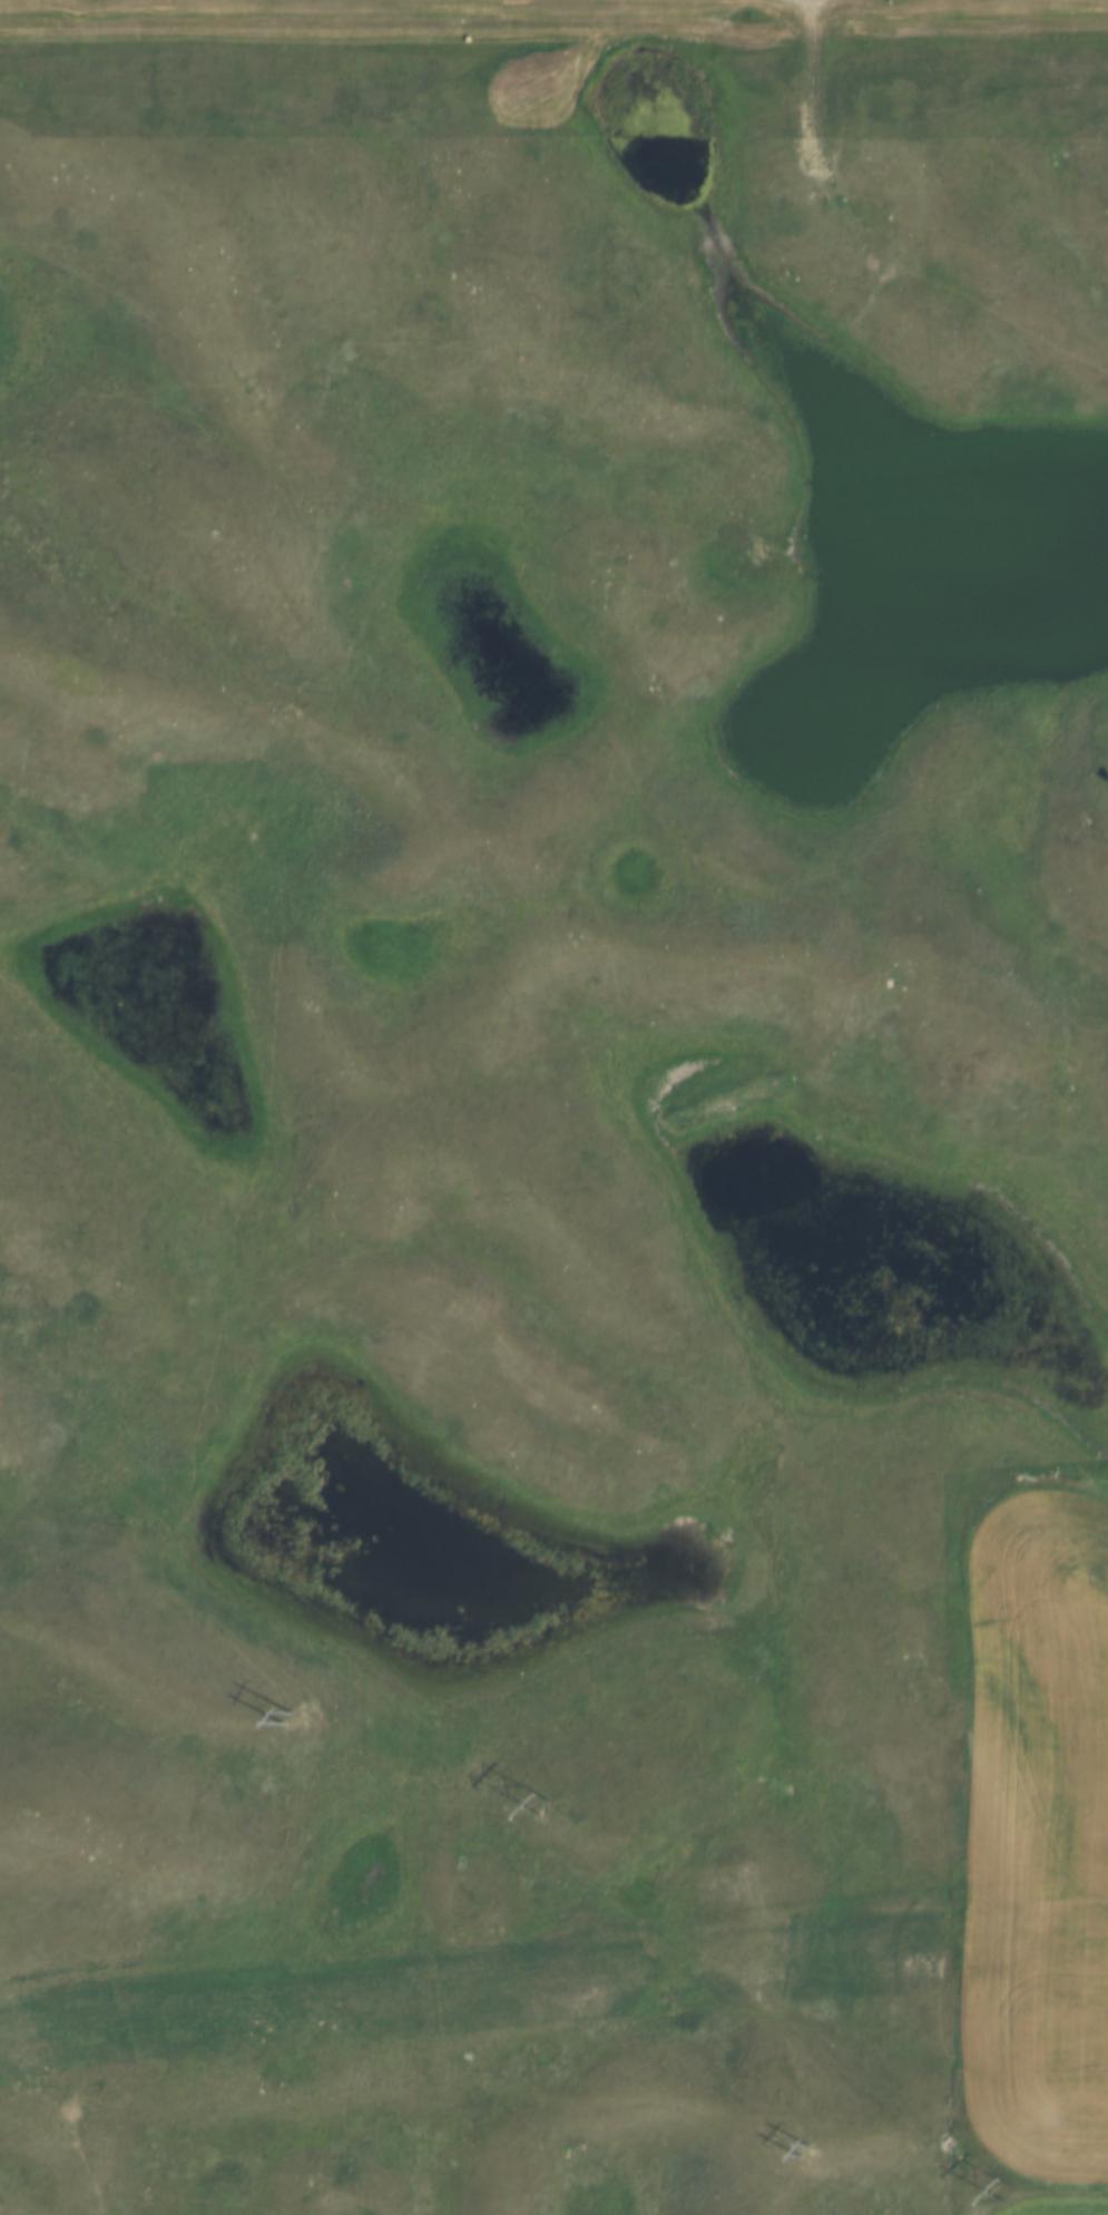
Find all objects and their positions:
power tower: (539, 1808)
power tower: (997, 2192)

